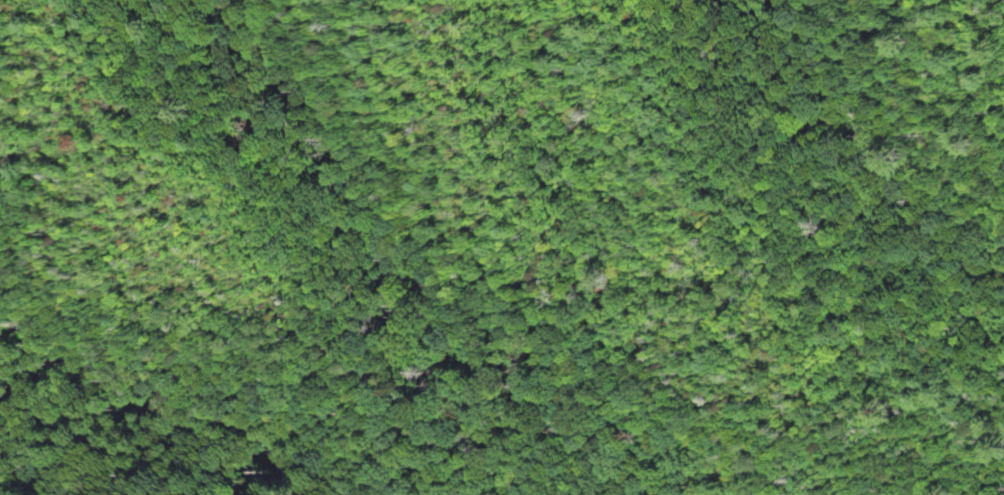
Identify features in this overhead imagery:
road: (128, 149)
road: (497, 272)

